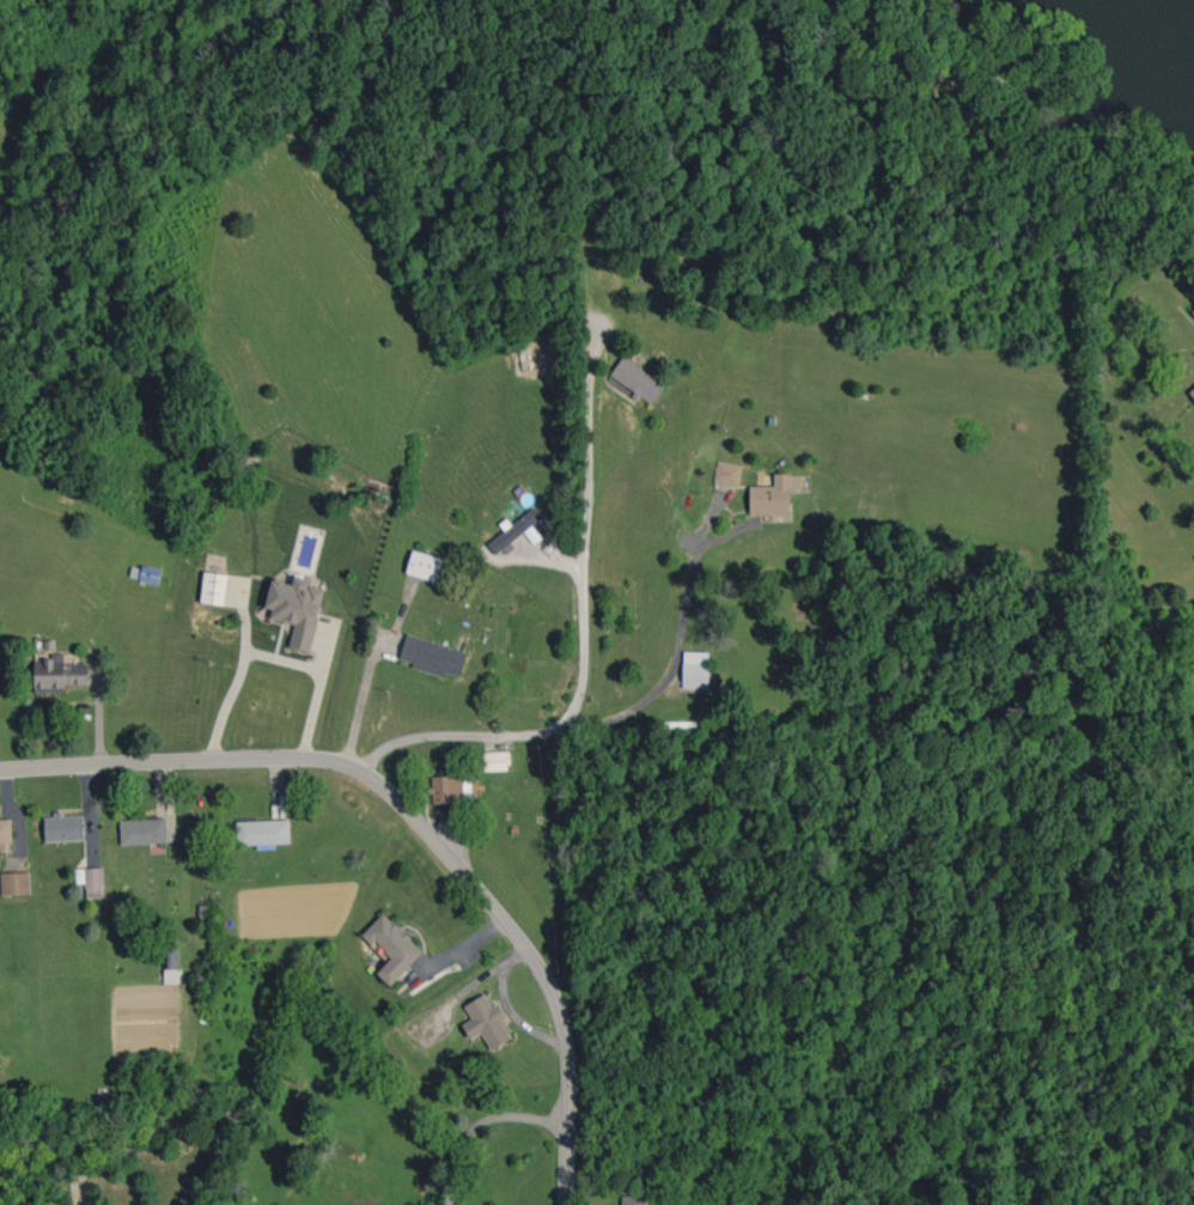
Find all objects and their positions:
building: (1193, 311)
building: (638, 381)
building: (1192, 392)
building: (727, 473)
building: (774, 494)
building: (514, 530)
building: (424, 565)
building: (214, 588)
building: (296, 609)
road: (674, 647)
road: (270, 656)
building: (433, 656)
road: (577, 658)
building: (696, 669)
building: (57, 674)
road: (363, 698)
building: (497, 760)
building: (447, 789)
road: (415, 818)
building: (63, 827)
building: (5, 830)
building: (144, 830)
building: (263, 832)
building: (91, 881)
building: (16, 883)
building: (392, 947)
building: (171, 964)
building: (486, 1022)
road: (479, 1122)
building: (634, 1200)

